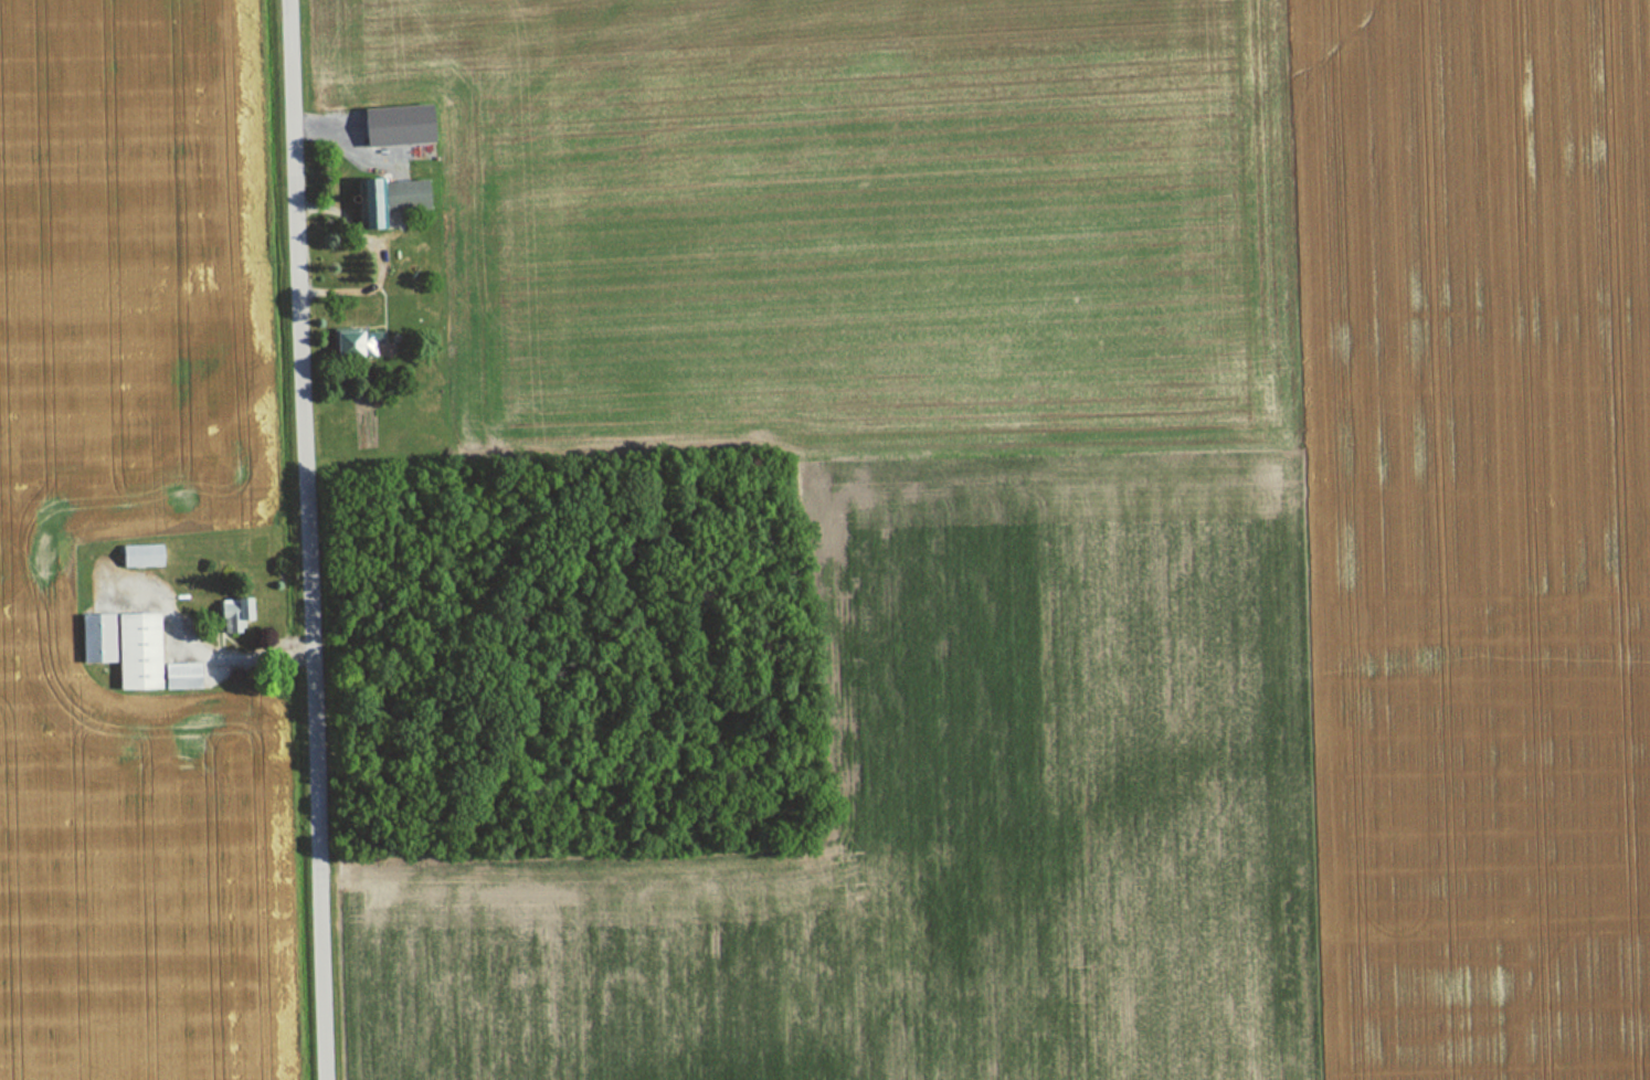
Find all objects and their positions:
building: (391, 125)
building: (383, 199)
building: (355, 346)
crop: (1081, 526)
road: (304, 540)
building: (136, 555)
crop: (33, 593)
building: (229, 613)
building: (127, 652)

